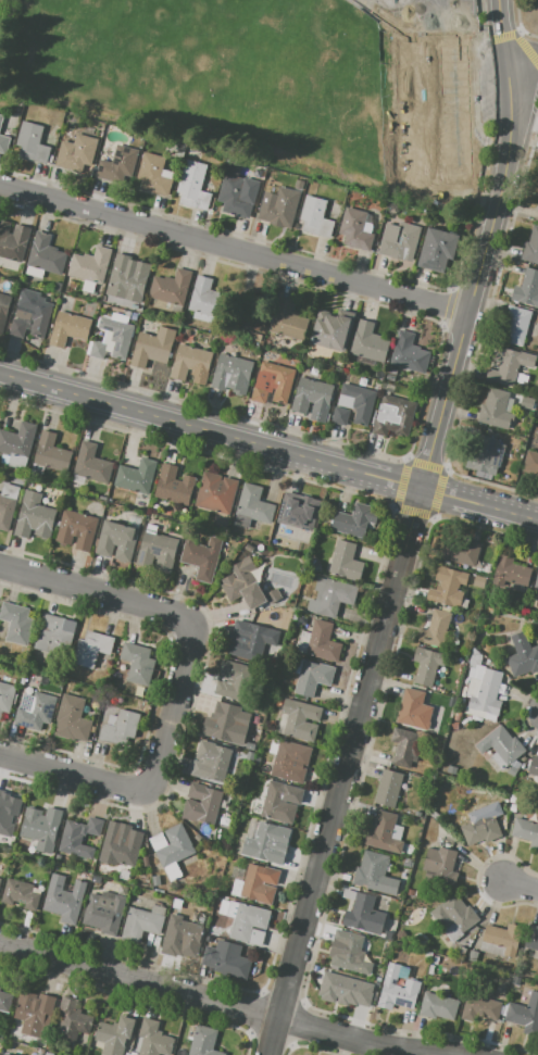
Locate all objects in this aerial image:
park: (447, 15)
road: (525, 53)
building: (415, 61)
parking lot: (486, 85)
building: (417, 105)
building: (8, 118)
building: (32, 142)
building: (4, 143)
building: (76, 152)
building: (117, 163)
building: (153, 174)
building: (193, 185)
building: (234, 196)
building: (537, 196)
building: (279, 206)
building: (315, 216)
building: (537, 221)
building: (354, 228)
building: (399, 240)
building: (13, 241)
road: (486, 246)
building: (531, 247)
road: (235, 249)
building: (438, 249)
building: (45, 255)
building: (90, 265)
building: (127, 278)
building: (171, 287)
building: (527, 288)
building: (205, 299)
building: (3, 310)
building: (30, 316)
building: (288, 319)
building: (516, 324)
building: (68, 328)
building: (334, 330)
building: (113, 338)
building: (367, 341)
building: (153, 348)
building: (408, 353)
building: (191, 363)
building: (511, 366)
building: (233, 374)
building: (273, 382)
building: (312, 398)
building: (358, 401)
building: (526, 403)
building: (495, 409)
building: (393, 415)
building: (340, 416)
building: (17, 440)
road: (268, 445)
building: (489, 451)
building: (51, 452)
building: (92, 463)
building: (530, 464)
building: (136, 476)
building: (174, 486)
building: (216, 492)
building: (8, 504)
building: (252, 506)
building: (300, 513)
building: (35, 516)
building: (354, 519)
building: (77, 529)
building: (117, 540)
building: (249, 548)
building: (261, 548)
building: (461, 550)
building: (158, 551)
building: (201, 556)
building: (346, 561)
building: (512, 570)
building: (479, 580)
building: (536, 581)
building: (247, 586)
building: (448, 586)
road: (98, 595)
building: (537, 595)
building: (331, 596)
building: (16, 623)
building: (436, 628)
building: (52, 632)
building: (323, 641)
building: (248, 643)
building: (91, 649)
building: (523, 655)
building: (475, 660)
building: (137, 663)
building: (427, 665)
building: (313, 677)
building: (235, 680)
building: (486, 695)
building: (5, 696)
building: (434, 696)
road: (173, 708)
building: (414, 709)
building: (36, 712)
building: (72, 718)
building: (300, 719)
building: (227, 725)
building: (118, 727)
building: (250, 745)
building: (501, 745)
building: (403, 746)
building: (250, 756)
building: (257, 761)
building: (291, 761)
building: (214, 762)
building: (534, 766)
building: (452, 769)
road: (343, 771)
road: (74, 774)
building: (388, 788)
building: (277, 803)
building: (207, 806)
building: (7, 812)
building: (417, 813)
building: (41, 827)
building: (481, 828)
building: (526, 831)
building: (381, 832)
building: (79, 837)
building: (266, 841)
building: (122, 847)
building: (171, 849)
building: (440, 862)
building: (97, 869)
building: (368, 869)
building: (0, 877)
building: (97, 879)
building: (155, 880)
building: (0, 881)
building: (260, 882)
road: (521, 883)
building: (20, 893)
building: (349, 893)
building: (64, 899)
building: (104, 912)
building: (460, 913)
building: (364, 915)
building: (143, 920)
building: (249, 924)
building: (186, 935)
building: (531, 937)
building: (503, 938)
building: (349, 952)
building: (226, 963)
building: (0, 988)
building: (501, 988)
building: (348, 990)
building: (397, 990)
building: (4, 1001)
road: (221, 1002)
building: (438, 1006)
building: (480, 1008)
building: (35, 1013)
building: (525, 1014)
building: (72, 1021)
building: (115, 1034)
building: (153, 1039)
building: (204, 1041)
building: (4, 1054)

